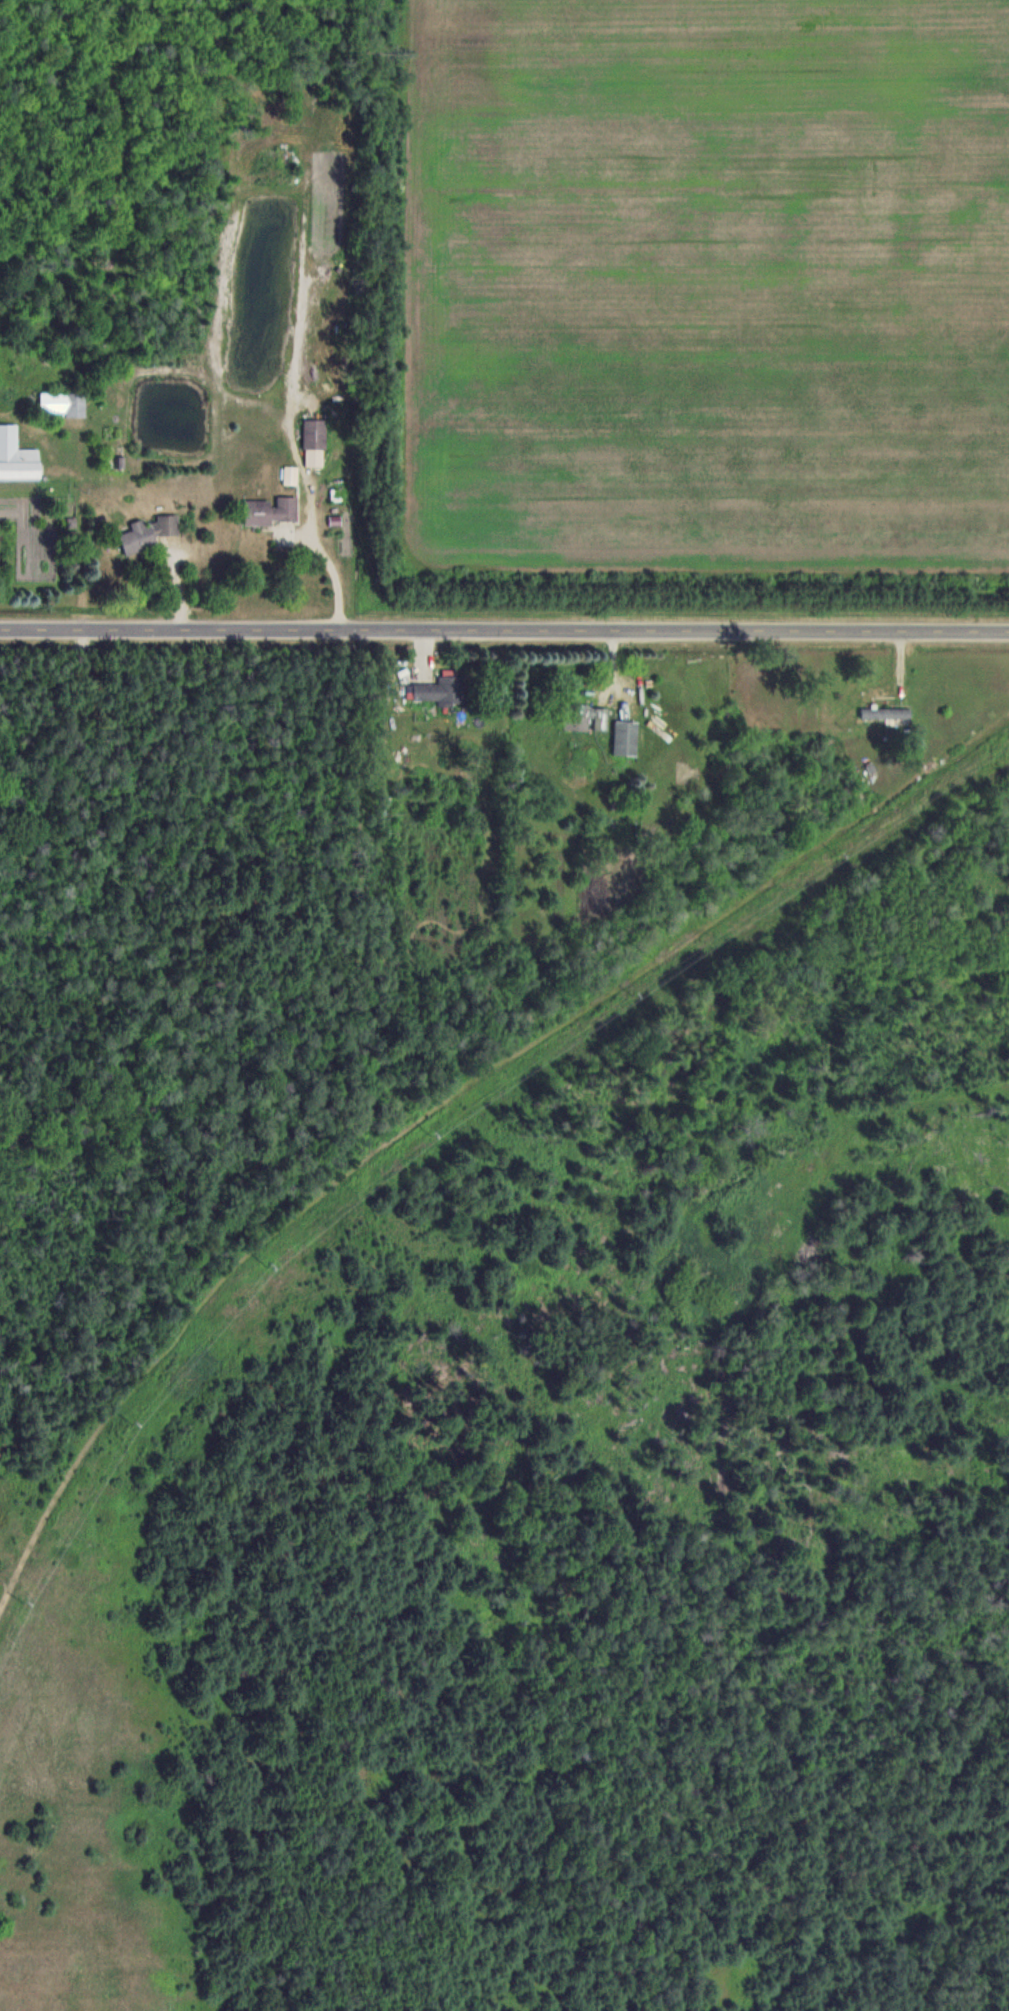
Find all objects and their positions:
building: (62, 403)
building: (314, 442)
building: (16, 456)
building: (290, 474)
building: (270, 510)
building: (148, 533)
road: (322, 555)
road: (504, 631)
building: (440, 690)
building: (886, 713)
building: (585, 718)
building: (625, 739)

